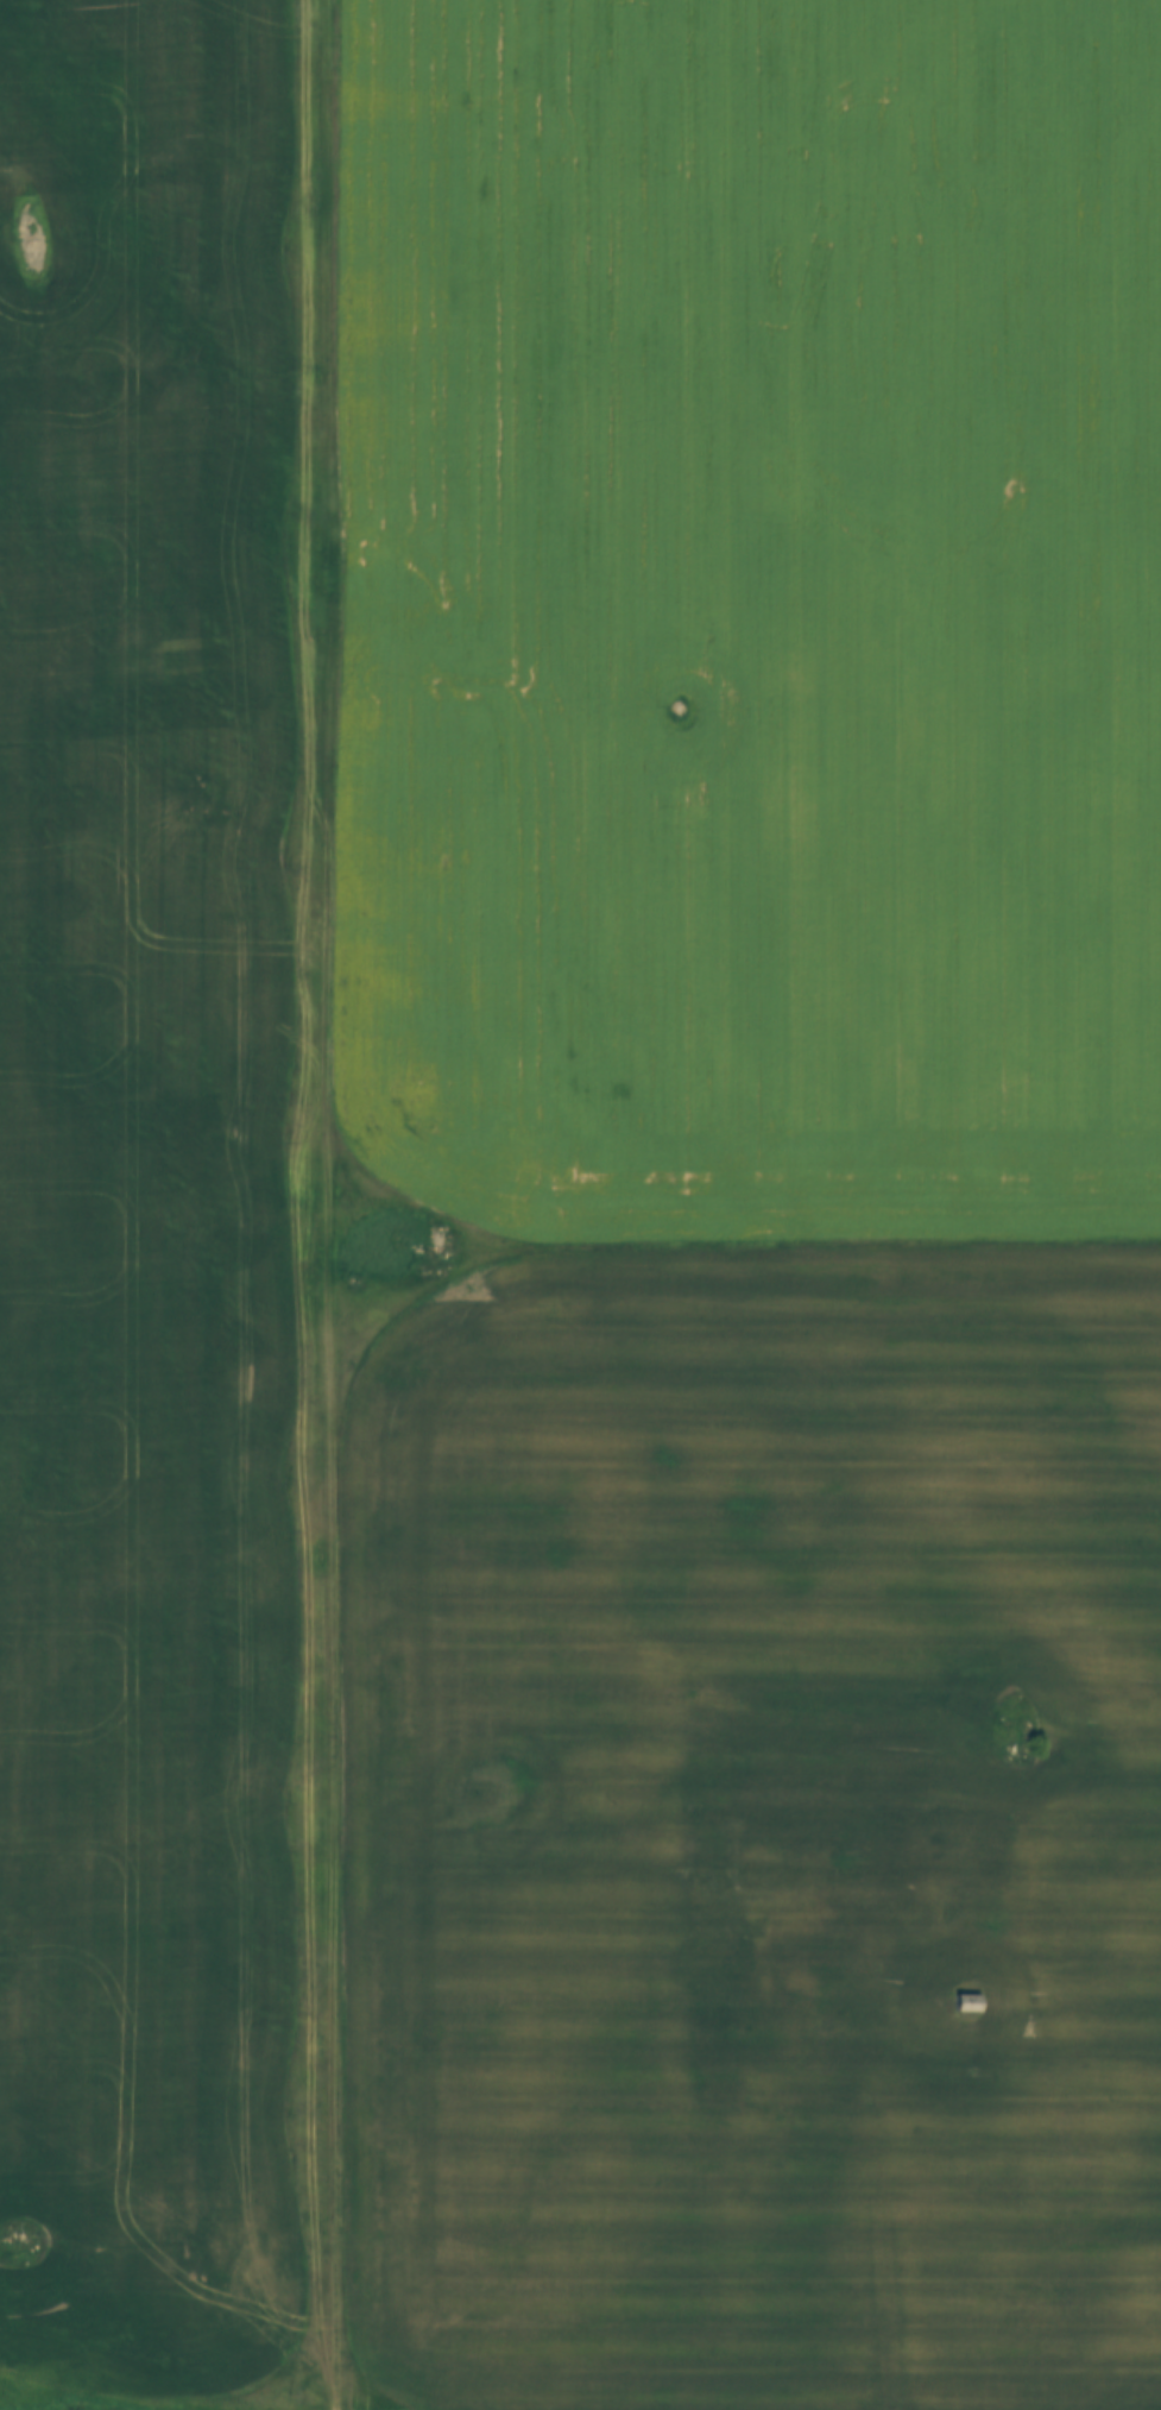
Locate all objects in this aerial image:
road: (304, 1204)
building: (970, 2002)

